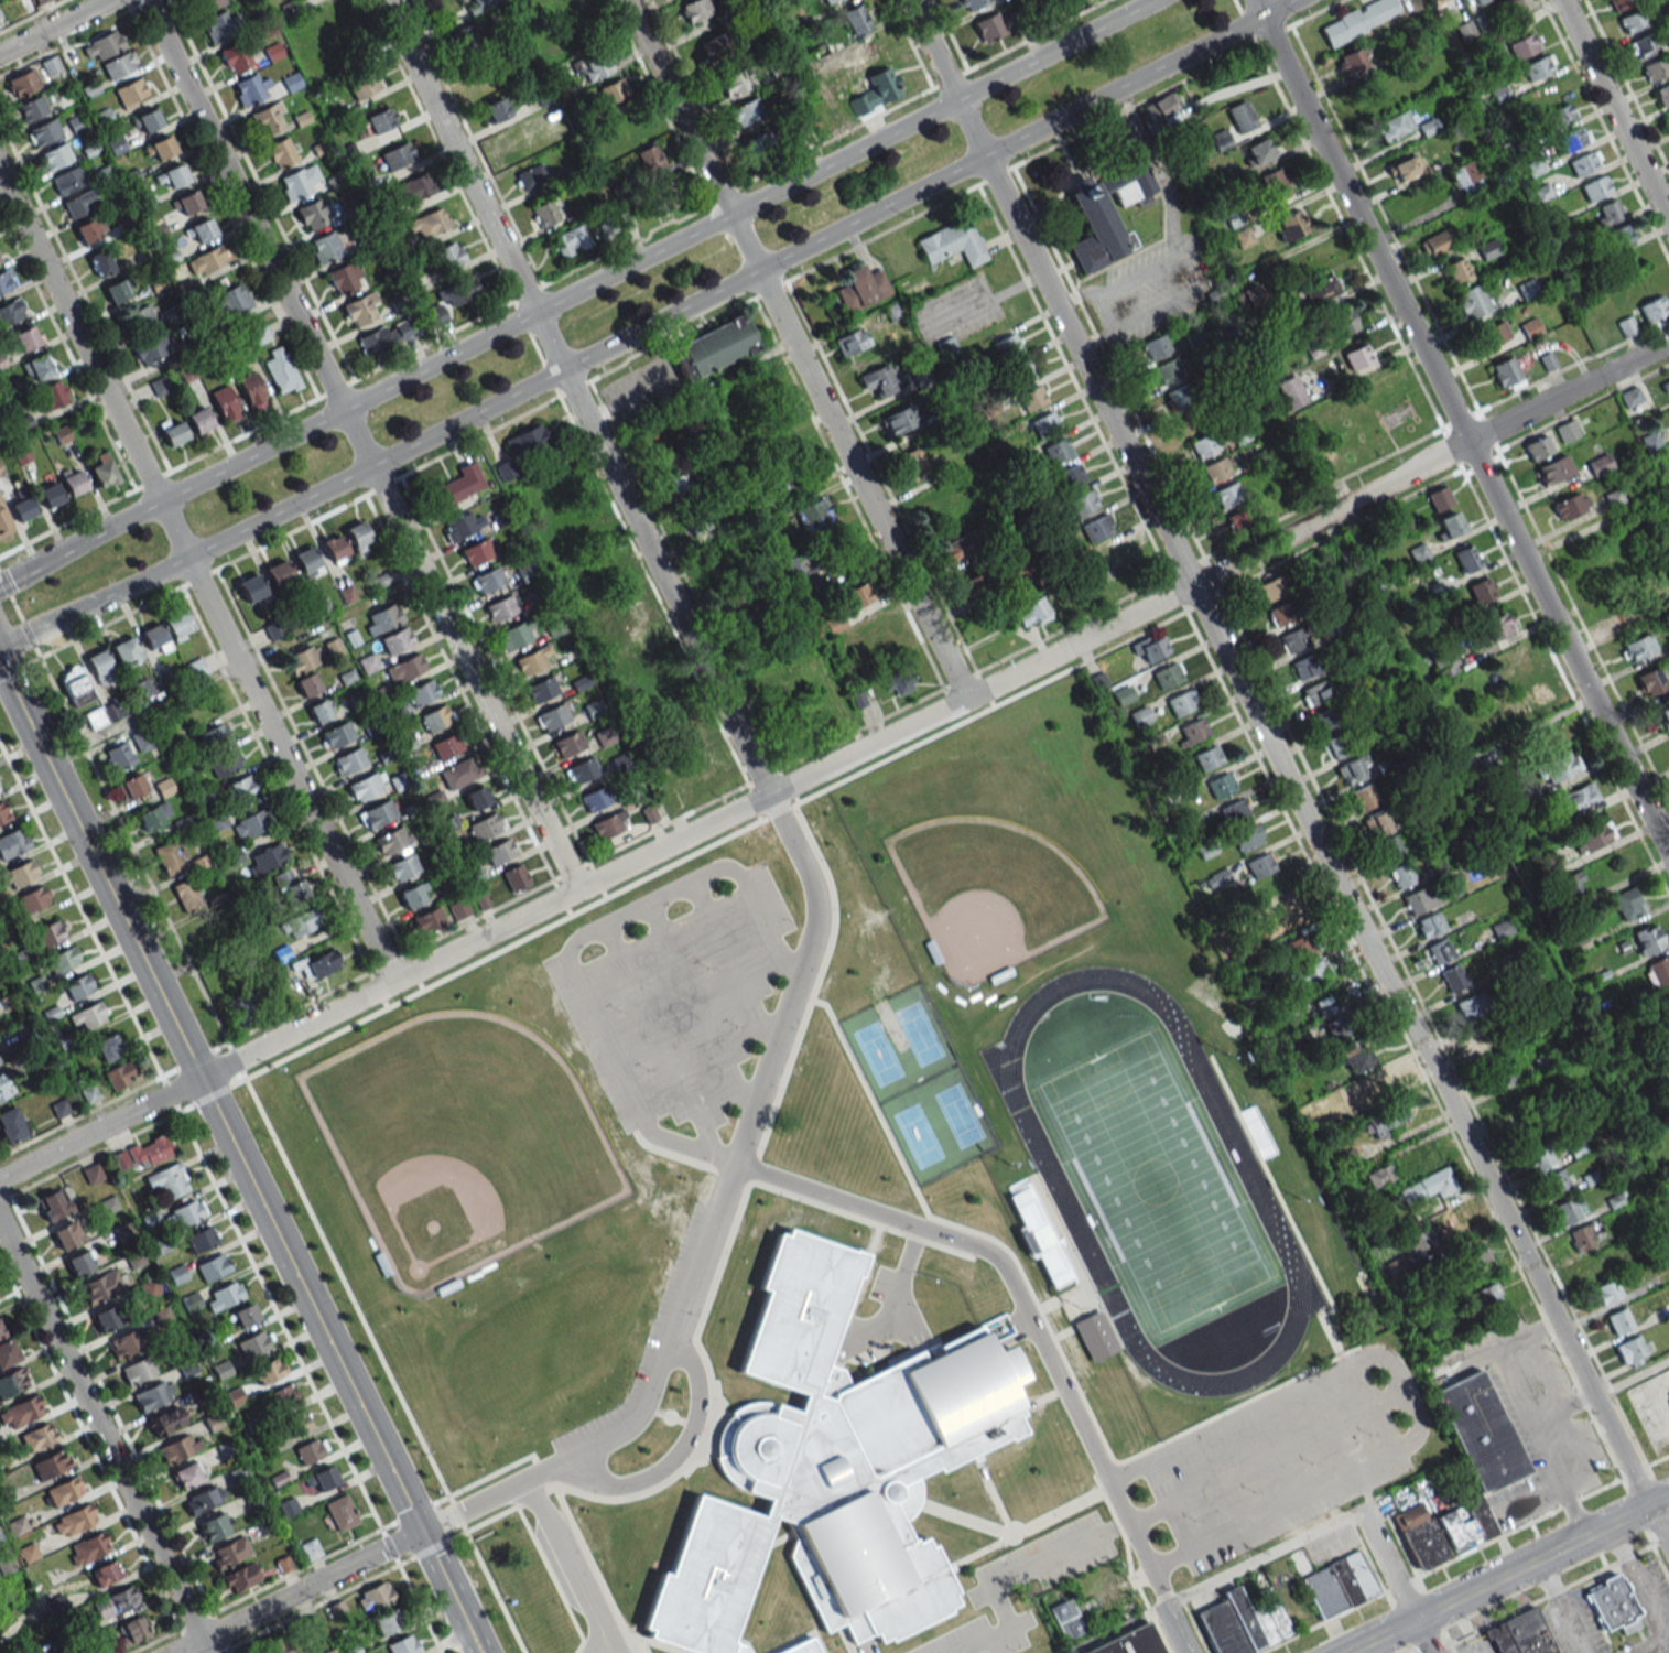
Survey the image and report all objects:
building: (39, 0)
building: (827, 1)
building: (1478, 1)
building: (1437, 2)
building: (210, 3)
building: (483, 3)
building: (972, 3)
building: (1621, 3)
building: (695, 10)
building: (582, 12)
road: (31, 14)
building: (1, 19)
building: (856, 19)
building: (1358, 20)
building: (1633, 20)
building: (220, 24)
road: (54, 26)
building: (990, 26)
building: (1465, 30)
building: (466, 37)
building: (102, 45)
building: (715, 46)
building: (1522, 46)
building: (1643, 46)
building: (236, 55)
building: (1355, 60)
road: (26, 61)
building: (119, 64)
building: (594, 64)
building: (1537, 67)
building: (735, 82)
building: (22, 83)
building: (362, 84)
building: (251, 88)
building: (877, 88)
building: (613, 90)
building: (131, 93)
building: (1662, 95)
building: (1161, 107)
building: (31, 108)
building: (496, 109)
building: (745, 111)
road: (1614, 111)
building: (1240, 116)
building: (1560, 116)
building: (267, 118)
building: (1667, 118)
building: (147, 120)
building: (381, 120)
building: (1395, 125)
building: (43, 132)
building: (1573, 139)
building: (755, 148)
building: (160, 149)
building: (1258, 151)
building: (280, 152)
building: (397, 155)
building: (55, 156)
building: (650, 159)
building: (1584, 162)
road: (1158, 169)
building: (1408, 170)
building: (175, 176)
building: (530, 176)
building: (1468, 177)
building: (66, 180)
building: (300, 181)
building: (1275, 184)
building: (415, 187)
building: (1595, 187)
building: (665, 193)
building: (77, 203)
building: (187, 203)
building: (625, 206)
building: (1608, 213)
building: (545, 214)
building: (1106, 214)
building: (311, 215)
building: (429, 224)
building: (1290, 225)
building: (89, 228)
building: (201, 229)
building: (1621, 235)
building: (1243, 237)
building: (571, 240)
building: (1440, 240)
building: (952, 242)
building: (328, 245)
building: (1487, 249)
building: (448, 255)
building: (0, 260)
building: (205, 260)
building: (101, 262)
road: (1191, 268)
building: (1456, 270)
road: (554, 277)
building: (345, 278)
building: (4, 282)
building: (860, 288)
building: (462, 289)
building: (1321, 290)
building: (116, 291)
road: (576, 291)
road: (1050, 292)
building: (1253, 294)
building: (231, 301)
building: (1472, 302)
building: (1654, 307)
building: (360, 309)
building: (10, 311)
building: (137, 320)
building: (1344, 321)
road: (648, 326)
building: (1530, 327)
building: (1494, 333)
building: (384, 336)
building: (24, 338)
building: (848, 343)
building: (1007, 346)
building: (713, 347)
building: (1155, 347)
building: (154, 349)
road: (795, 349)
building: (1357, 356)
building: (37, 366)
building: (280, 369)
building: (1021, 370)
building: (1168, 371)
building: (1506, 374)
building: (878, 380)
building: (1666, 386)
building: (251, 390)
building: (1291, 391)
building: (52, 395)
road: (576, 397)
building: (1630, 397)
building: (1031, 398)
building: (1177, 398)
building: (225, 403)
building: (198, 420)
building: (899, 420)
building: (1191, 420)
building: (1044, 424)
road: (1460, 426)
building: (1567, 431)
building: (173, 432)
building: (525, 441)
road: (360, 444)
building: (1203, 445)
building: (1537, 447)
building: (1056, 450)
road: (1429, 461)
building: (914, 463)
building: (1598, 464)
building: (503, 469)
building: (1216, 469)
building: (1553, 469)
building: (101, 471)
building: (793, 474)
building: (1071, 476)
building: (74, 480)
building: (675, 480)
building: (460, 483)
building: (50, 495)
building: (1227, 495)
building: (1439, 498)
building: (1083, 503)
building: (1570, 505)
building: (22, 508)
building: (814, 515)
building: (696, 520)
building: (1237, 520)
building: (4, 521)
building: (462, 525)
building: (1449, 525)
building: (1096, 527)
building: (552, 536)
building: (359, 537)
building: (957, 548)
building: (335, 549)
building: (476, 552)
building: (1108, 554)
building: (1466, 560)
building: (306, 561)
building: (800, 565)
building: (278, 573)
road: (196, 577)
building: (487, 580)
building: (251, 587)
building: (969, 587)
building: (1270, 588)
building: (1482, 591)
building: (857, 595)
building: (500, 608)
building: (1031, 613)
building: (1279, 614)
building: (381, 619)
building: (177, 625)
building: (831, 626)
building: (1492, 628)
building: (516, 635)
building: (154, 637)
building: (1296, 639)
building: (397, 640)
building: (880, 640)
building: (1150, 647)
building: (1637, 647)
building: (126, 651)
building: (303, 659)
building: (533, 659)
building: (100, 666)
building: (1303, 667)
building: (1511, 667)
building: (404, 668)
building: (1167, 676)
building: (897, 679)
building: (1649, 681)
building: (75, 684)
building: (307, 684)
building: (142, 688)
building: (541, 689)
building: (421, 692)
building: (1315, 693)
building: (1532, 699)
building: (1181, 703)
building: (112, 710)
building: (318, 711)
building: (1140, 715)
building: (1663, 715)
building: (552, 716)
building: (95, 719)
building: (435, 719)
building: (1324, 720)
building: (1192, 731)
building: (337, 734)
building: (213, 736)
building: (140, 739)
building: (568, 744)
building: (446, 745)
building: (1336, 746)
building: (118, 756)
building: (1207, 757)
building: (348, 760)
building: (1480, 760)
building: (224, 763)
building: (1559, 767)
building: (1353, 768)
building: (698, 769)
building: (582, 770)
building: (459, 773)
building: (366, 785)
building: (1221, 785)
building: (131, 786)
building: (240, 788)
building: (0, 789)
road: (810, 796)
building: (476, 797)
building: (1363, 797)
building: (594, 798)
building: (1574, 800)
building: (670, 801)
building: (3, 811)
building: (1234, 811)
building: (376, 813)
building: (151, 817)
building: (251, 823)
building: (609, 823)
building: (1376, 824)
building: (485, 827)
building: (1593, 836)
building: (1248, 838)
building: (391, 840)
building: (12, 843)
building: (1388, 849)
building: (499, 851)
building: (170, 856)
building: (265, 858)
building: (1551, 862)
building: (1260, 865)
building: (401, 867)
building: (18, 874)
building: (1402, 875)
building: (516, 877)
building: (1217, 878)
road: (596, 880)
building: (289, 885)
building: (1573, 885)
park: (989, 892)
building: (1271, 892)
building: (413, 894)
building: (186, 895)
building: (32, 898)
building: (1417, 900)
road: (647, 901)
building: (1627, 905)
building: (459, 908)
building: (1286, 919)
building: (429, 920)
building: (302, 921)
building: (1429, 925)
road: (767, 927)
building: (47, 933)
building: (1647, 939)
building: (1298, 947)
building: (1439, 951)
building: (62, 960)
road: (731, 963)
building: (314, 965)
building: (1659, 972)
building: (1308, 974)
building: (1452, 977)
building: (77, 986)
parking lot: (673, 997)
park: (1212, 1001)
building: (240, 1006)
road: (697, 1006)
building: (1472, 1006)
building: (88, 1016)
road: (651, 1019)
building: (1340, 1025)
road: (606, 1041)
building: (1290, 1044)
building: (107, 1047)
building: (1356, 1056)
road: (1428, 1059)
building: (1500, 1073)
building: (119, 1076)
park: (918, 1084)
building: (4, 1085)
building: (1518, 1104)
building: (1388, 1117)
building: (10, 1125)
building: (1256, 1132)
road: (706, 1136)
park: (459, 1142)
road: (686, 1146)
building: (143, 1153)
building: (1539, 1156)
road: (679, 1157)
road: (239, 1159)
park: (1145, 1163)
building: (93, 1174)
road: (207, 1174)
building: (1379, 1177)
building: (167, 1180)
building: (1554, 1181)
building: (1440, 1182)
building: (53, 1204)
road: (1282, 1208)
building: (1569, 1210)
building: (186, 1212)
track: (1269, 1216)
road: (711, 1218)
road: (954, 1225)
track: (1335, 1227)
building: (67, 1234)
building: (1582, 1235)
building: (1038, 1236)
building: (201, 1239)
building: (1412, 1253)
road: (1073, 1254)
building: (1478, 1261)
building: (79, 1263)
building: (1591, 1266)
building: (212, 1267)
road: (860, 1272)
parking lot: (880, 1283)
building: (100, 1286)
building: (150, 1287)
parking lot: (669, 1290)
building: (1607, 1290)
building: (226, 1294)
building: (1488, 1296)
road: (892, 1297)
building: (246, 1315)
road: (1103, 1315)
building: (105, 1318)
road: (903, 1319)
building: (1618, 1320)
road: (1033, 1326)
road: (696, 1329)
building: (1, 1331)
road: (1062, 1332)
building: (1094, 1335)
building: (124, 1343)
building: (253, 1343)
building: (1633, 1350)
building: (8, 1352)
building: (138, 1370)
building: (269, 1371)
road: (1632, 1376)
building: (12, 1381)
road: (1405, 1391)
road: (1045, 1394)
building: (152, 1395)
building: (282, 1396)
building: (20, 1412)
road: (654, 1412)
road: (668, 1412)
road: (1527, 1414)
building: (164, 1420)
road: (689, 1423)
building: (294, 1425)
building: (1481, 1429)
building: (34, 1438)
road: (104, 1439)
building: (178, 1447)
building: (308, 1450)
road: (1137, 1452)
road: (675, 1454)
road: (1267, 1457)
parking lot: (1274, 1462)
building: (50, 1465)
building: (831, 1466)
building: (187, 1474)
road: (488, 1474)
building: (325, 1480)
building: (64, 1491)
road: (994, 1495)
building: (204, 1499)
road: (1060, 1512)
building: (343, 1515)
road: (963, 1517)
building: (74, 1520)
building: (214, 1526)
traffic signals: (427, 1527)
road: (1007, 1532)
building: (88, 1548)
building: (229, 1552)
road: (979, 1552)
road: (1265, 1557)
road: (1541, 1557)
road: (568, 1564)
road: (593, 1569)
building: (106, 1571)
building: (240, 1577)
road: (552, 1579)
parking lot: (1001, 1579)
road: (1007, 1579)
road: (1396, 1580)
building: (1337, 1585)
road: (301, 1589)
road: (749, 1590)
road: (1641, 1590)
road: (495, 1591)
building: (376, 1596)
building: (115, 1601)
building: (1612, 1603)
road: (1561, 1606)
building: (1065, 1619)
building: (388, 1621)
building: (1242, 1624)
road: (1117, 1628)
building: (133, 1630)
building: (1520, 1633)
road: (1379, 1635)
road: (802, 1636)
road: (844, 1640)
building: (1129, 1642)
road: (654, 1643)
building: (277, 1645)
building: (403, 1645)
building: (801, 1647)
road: (864, 1647)

